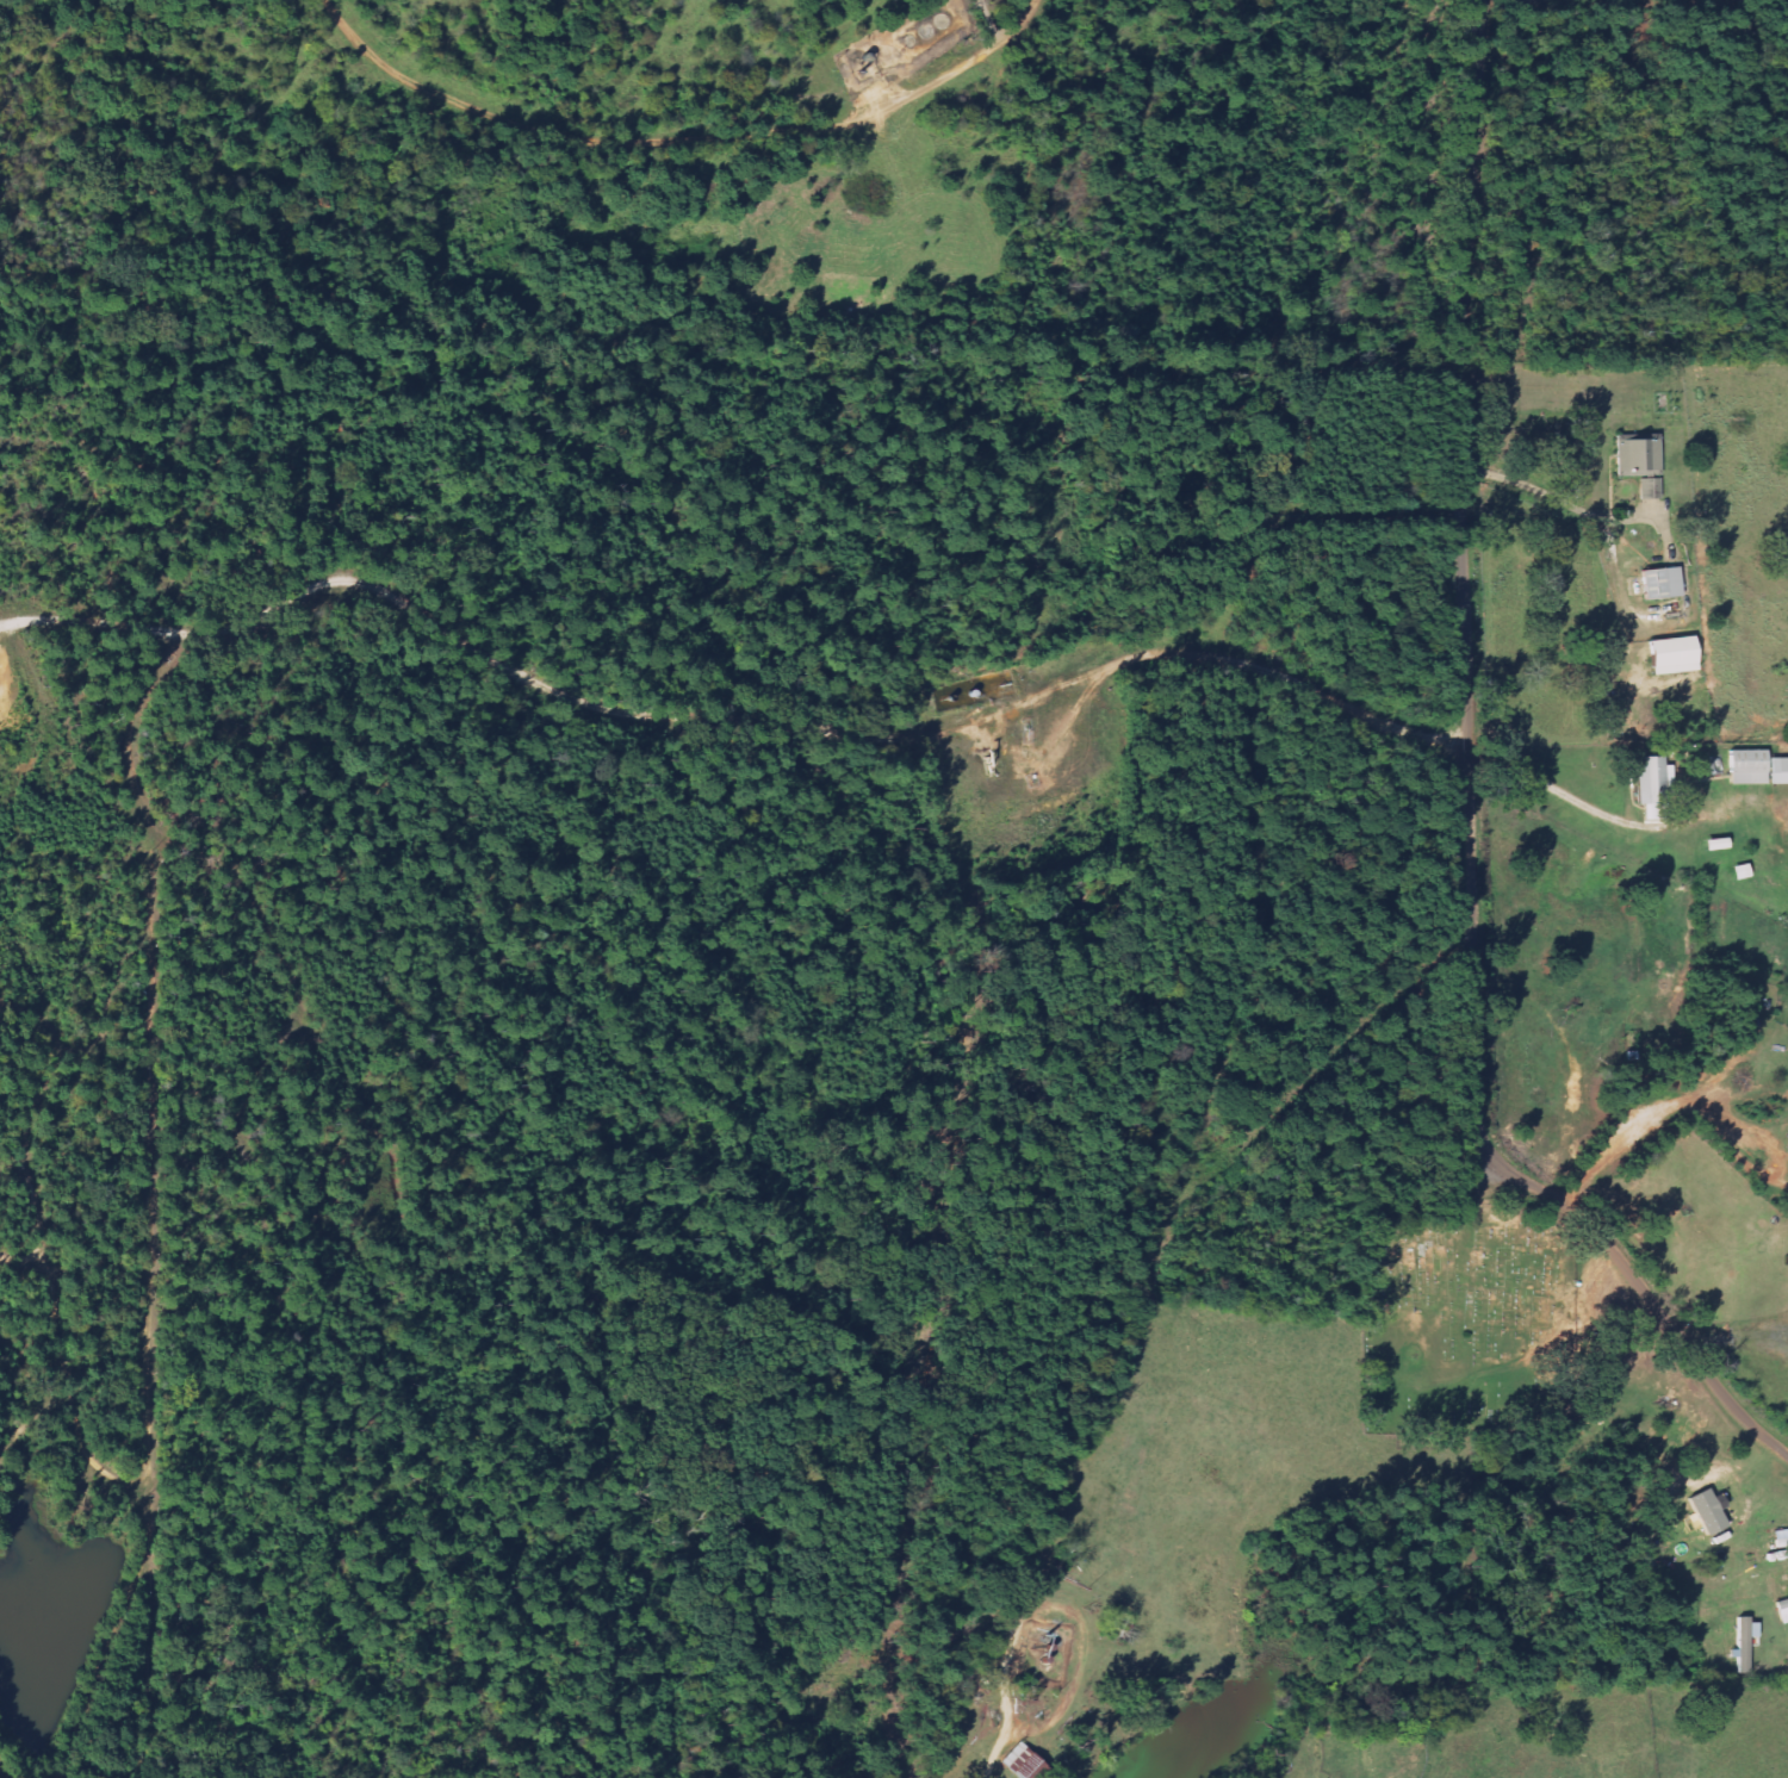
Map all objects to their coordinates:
building: (1635, 455)
building: (1647, 489)
building: (1659, 583)
building: (1670, 654)
building: (1746, 766)
building: (1777, 770)
building: (1652, 781)
road: (1469, 790)
building: (1713, 844)
park: (1466, 1318)
building: (1707, 1510)
building: (1782, 1610)
building: (1744, 1641)

